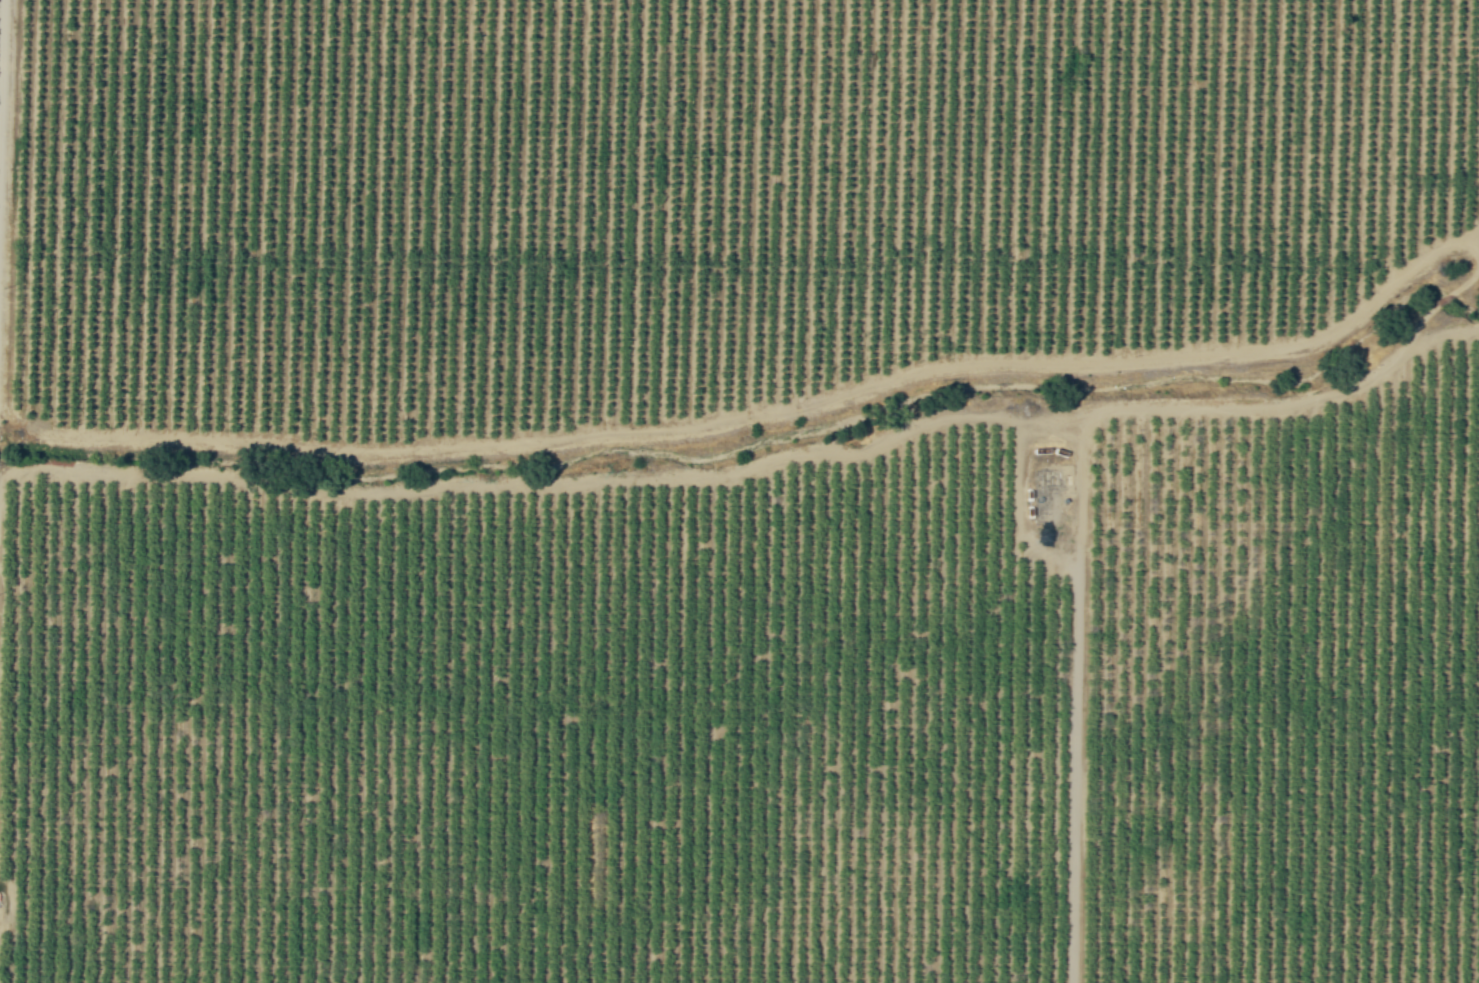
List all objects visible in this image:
road: (5, 187)
road: (1073, 766)

